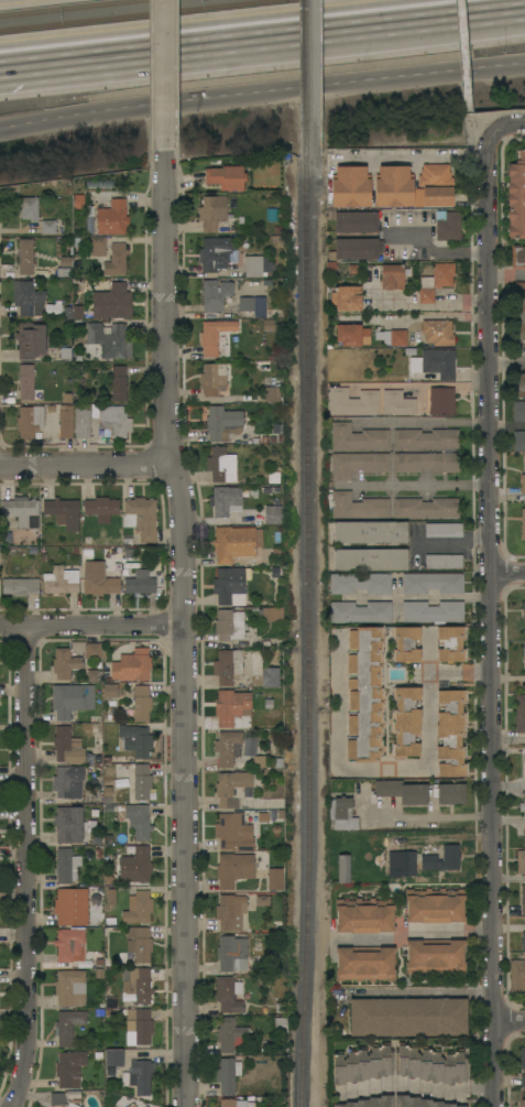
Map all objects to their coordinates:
railway: (68, 7)
railway: (133, 14)
road: (352, 21)
road: (461, 52)
road: (90, 53)
road: (162, 77)
railway: (306, 80)
road: (261, 87)
building: (255, 97)
road: (473, 122)
road: (505, 124)
road: (409, 156)
building: (226, 177)
building: (436, 184)
building: (351, 186)
building: (393, 186)
building: (516, 197)
building: (78, 203)
building: (28, 208)
building: (211, 211)
building: (271, 215)
building: (112, 218)
building: (353, 220)
building: (447, 225)
building: (47, 227)
building: (97, 247)
road: (430, 249)
building: (352, 250)
building: (216, 253)
building: (25, 256)
building: (517, 257)
building: (116, 260)
building: (64, 262)
building: (256, 267)
building: (63, 272)
building: (392, 276)
road: (508, 276)
building: (435, 281)
building: (519, 287)
building: (215, 294)
building: (28, 299)
building: (346, 299)
building: (111, 302)
building: (253, 306)
road: (430, 306)
building: (77, 312)
building: (519, 319)
building: (267, 325)
building: (437, 333)
building: (351, 335)
building: (397, 337)
building: (216, 338)
building: (30, 340)
building: (110, 340)
building: (65, 352)
building: (435, 362)
road: (508, 362)
building: (215, 379)
building: (25, 382)
building: (119, 383)
road: (423, 386)
building: (519, 386)
building: (271, 389)
building: (441, 401)
building: (352, 402)
building: (396, 403)
building: (518, 411)
building: (29, 421)
building: (114, 421)
road: (430, 421)
building: (81, 422)
building: (65, 423)
building: (222, 423)
building: (358, 437)
building: (425, 438)
building: (518, 441)
building: (426, 463)
road: (83, 464)
building: (357, 464)
building: (221, 465)
building: (273, 478)
road: (415, 484)
building: (522, 484)
building: (267, 489)
building: (220, 502)
building: (358, 506)
building: (426, 508)
building: (101, 509)
building: (20, 510)
building: (63, 512)
building: (272, 514)
building: (140, 518)
building: (523, 523)
building: (442, 530)
building: (370, 532)
building: (127, 541)
building: (233, 543)
road: (452, 543)
building: (116, 553)
building: (128, 553)
railway: (299, 553)
building: (370, 560)
building: (264, 562)
building: (444, 562)
building: (130, 565)
road: (508, 573)
building: (98, 579)
building: (61, 582)
building: (140, 583)
building: (360, 583)
building: (431, 583)
building: (228, 584)
building: (20, 586)
road: (420, 595)
building: (523, 610)
building: (359, 611)
building: (431, 611)
building: (272, 614)
road: (493, 619)
building: (229, 625)
road: (88, 626)
road: (177, 630)
railway: (309, 633)
building: (273, 642)
building: (450, 643)
building: (406, 644)
building: (76, 649)
building: (91, 651)
building: (524, 655)
building: (64, 663)
building: (132, 666)
building: (227, 666)
building: (91, 675)
building: (269, 677)
building: (259, 680)
building: (110, 691)
building: (363, 694)
building: (70, 699)
building: (141, 703)
building: (230, 706)
building: (519, 714)
building: (406, 721)
road: (433, 725)
building: (450, 732)
road: (510, 737)
building: (134, 740)
building: (67, 747)
building: (227, 748)
road: (339, 752)
building: (524, 760)
building: (119, 770)
building: (141, 781)
building: (67, 782)
road: (510, 785)
building: (233, 789)
building: (403, 791)
building: (450, 793)
building: (522, 806)
building: (342, 814)
road: (510, 820)
building: (139, 821)
road: (431, 821)
building: (69, 824)
building: (231, 835)
building: (524, 836)
building: (98, 853)
building: (450, 857)
building: (521, 862)
building: (66, 866)
building: (135, 866)
building: (403, 866)
road: (22, 868)
building: (233, 869)
building: (343, 869)
building: (274, 879)
road: (510, 881)
building: (111, 897)
building: (523, 899)
building: (262, 900)
building: (435, 905)
building: (70, 907)
building: (138, 908)
building: (230, 912)
building: (364, 915)
road: (417, 932)
building: (523, 941)
building: (139, 943)
building: (69, 945)
building: (232, 954)
building: (435, 956)
building: (364, 964)
building: (99, 973)
building: (517, 977)
building: (138, 984)
building: (70, 988)
building: (228, 995)
road: (416, 995)
building: (407, 1017)
road: (511, 1020)
building: (68, 1025)
building: (138, 1027)
building: (282, 1033)
building: (231, 1037)
building: (114, 1057)
building: (522, 1057)
building: (362, 1064)
building: (430, 1064)
building: (69, 1068)
building: (228, 1075)
building: (141, 1076)
building: (523, 1081)
road: (417, 1088)
building: (37, 1098)
building: (57, 1099)
building: (370, 1101)
building: (419, 1101)
building: (227, 1103)
building: (523, 1104)
building: (72, 1105)
building: (131, 1105)
building: (145, 1106)

